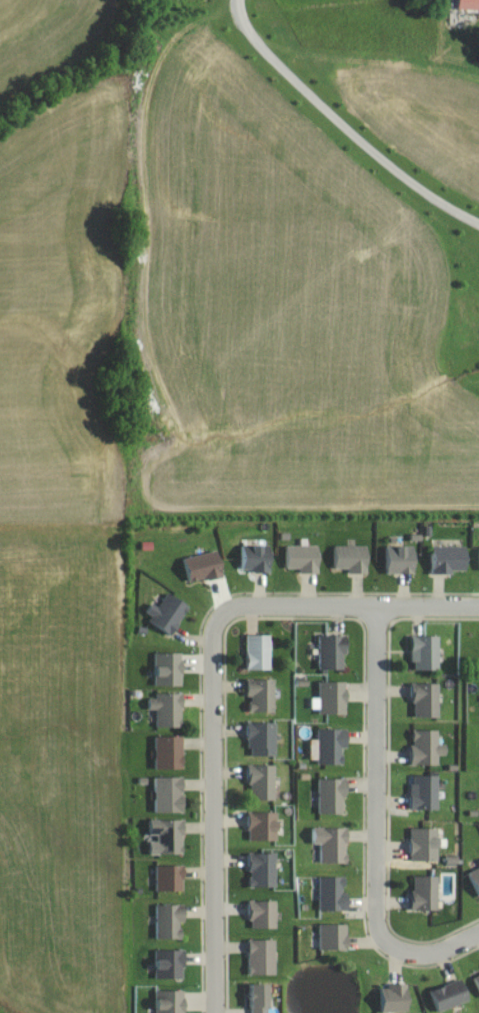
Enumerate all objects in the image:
building: (467, 4)
road: (340, 129)
building: (254, 557)
building: (301, 557)
building: (349, 558)
building: (446, 558)
building: (398, 559)
building: (477, 559)
building: (201, 566)
road: (349, 605)
building: (164, 613)
building: (255, 651)
building: (329, 651)
building: (422, 652)
building: (165, 668)
building: (259, 694)
building: (330, 697)
building: (423, 700)
building: (165, 708)
building: (259, 738)
building: (326, 745)
building: (423, 747)
building: (166, 752)
building: (259, 781)
road: (377, 781)
building: (421, 792)
building: (165, 793)
building: (329, 795)
road: (215, 813)
building: (260, 825)
building: (163, 836)
building: (329, 843)
building: (421, 843)
building: (260, 869)
building: (167, 877)
building: (474, 880)
building: (330, 893)
building: (422, 893)
building: (260, 914)
building: (167, 920)
building: (331, 936)
road: (439, 952)
building: (259, 956)
building: (166, 963)
building: (476, 982)
building: (447, 994)
building: (255, 997)
building: (391, 998)
building: (167, 1001)

